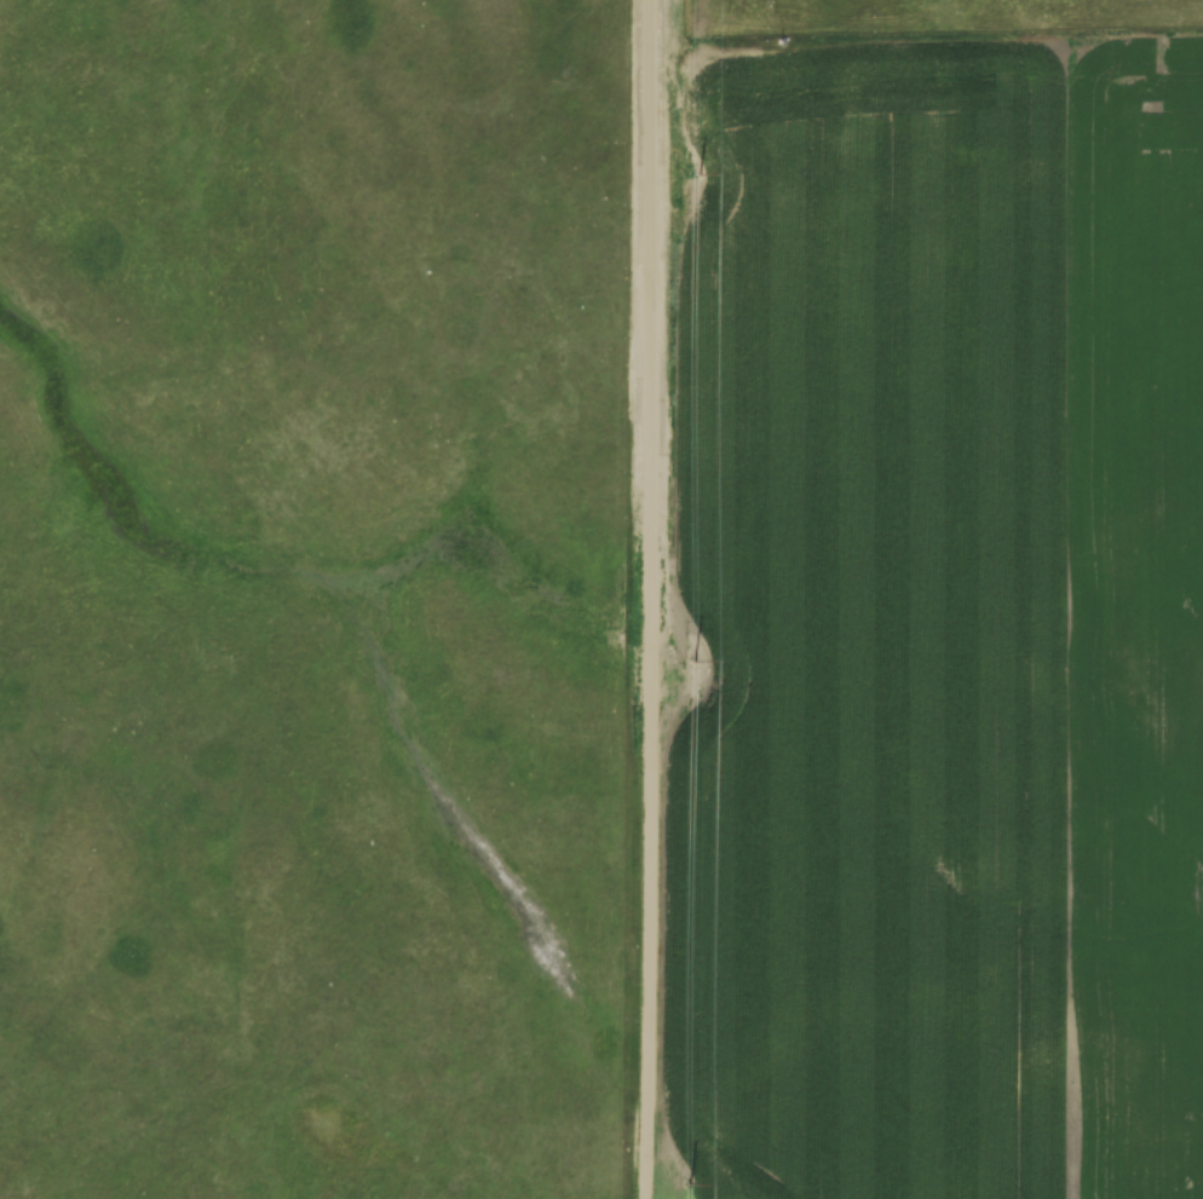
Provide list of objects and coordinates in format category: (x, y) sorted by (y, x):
power tower: (698, 172)
road: (651, 599)
power tower: (693, 659)
power tower: (689, 1181)

